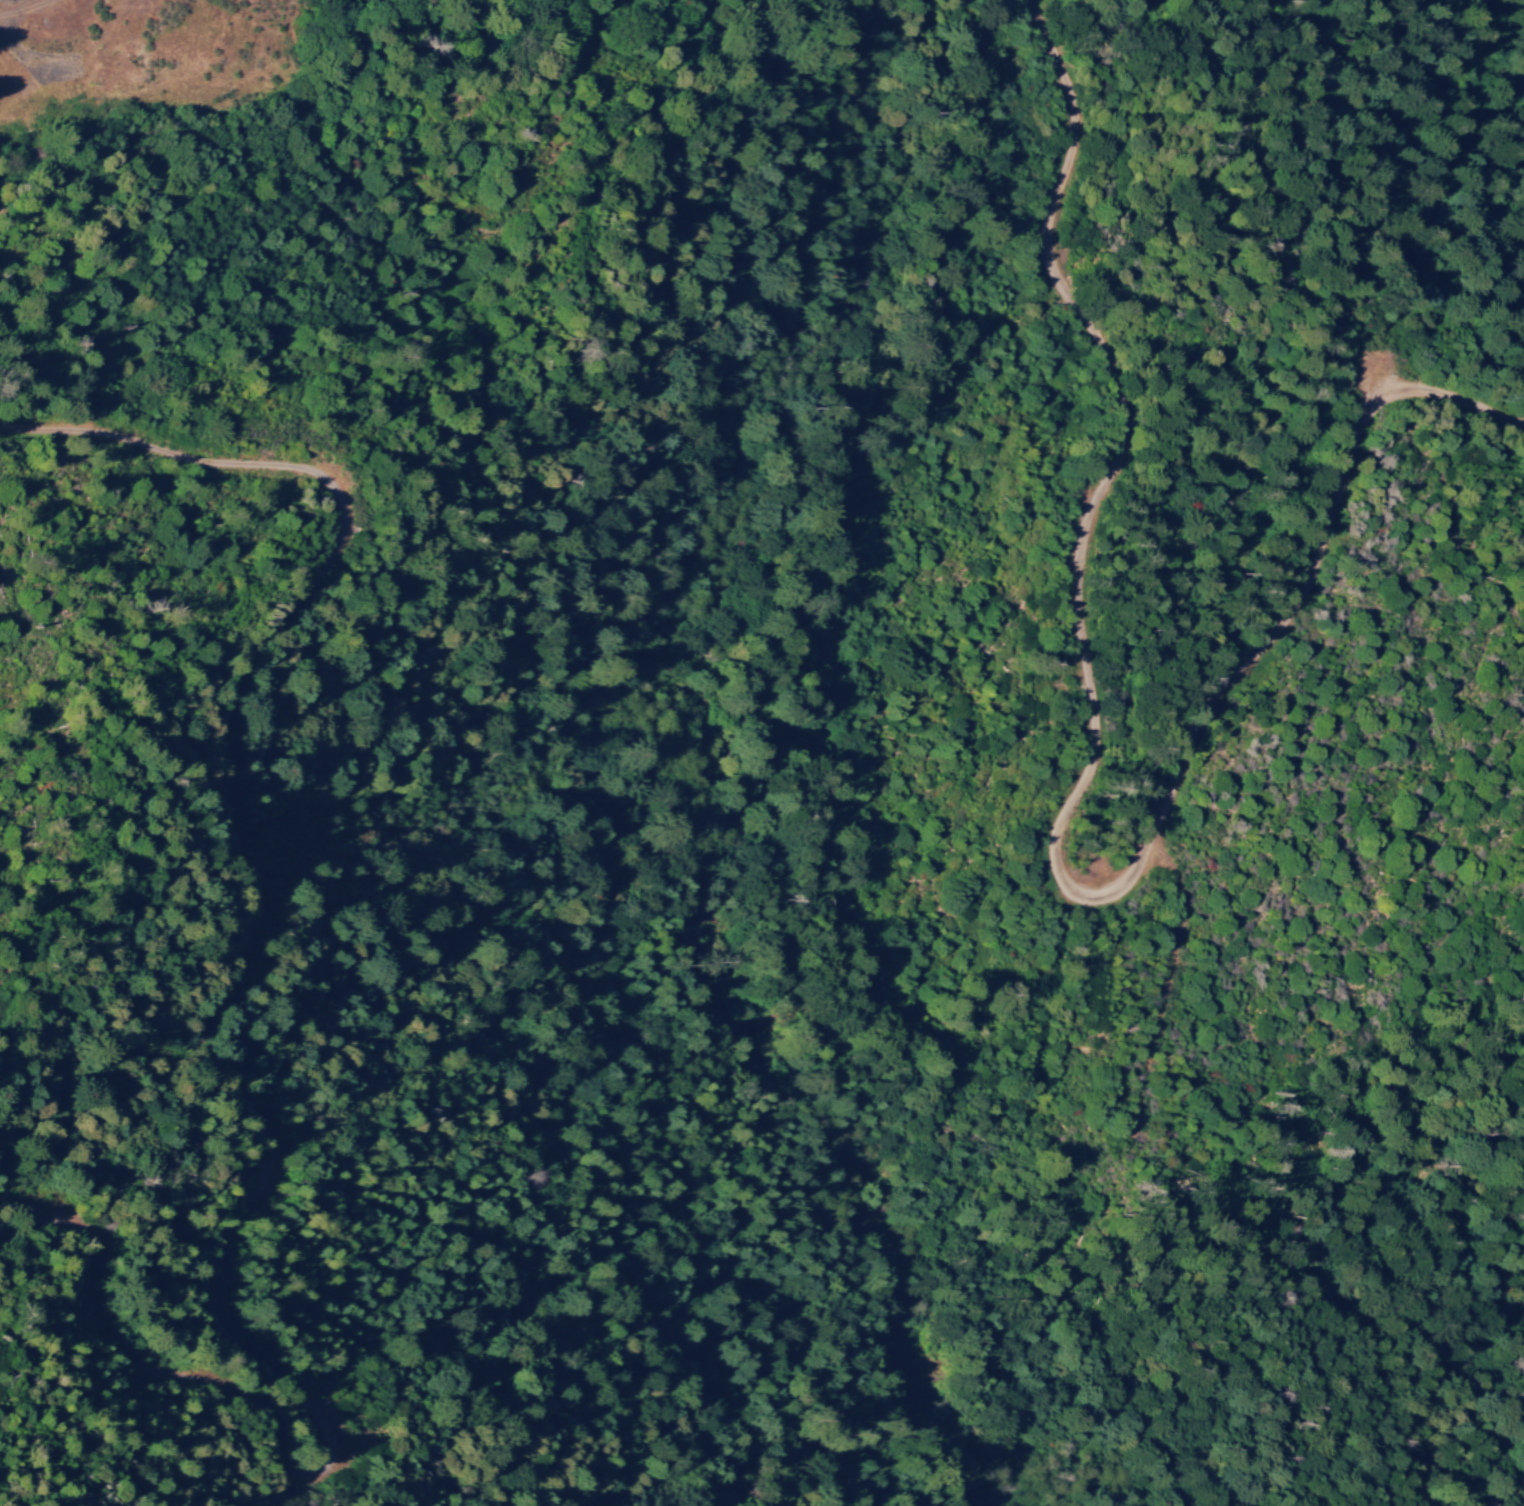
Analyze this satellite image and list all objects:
road: (1063, 817)

